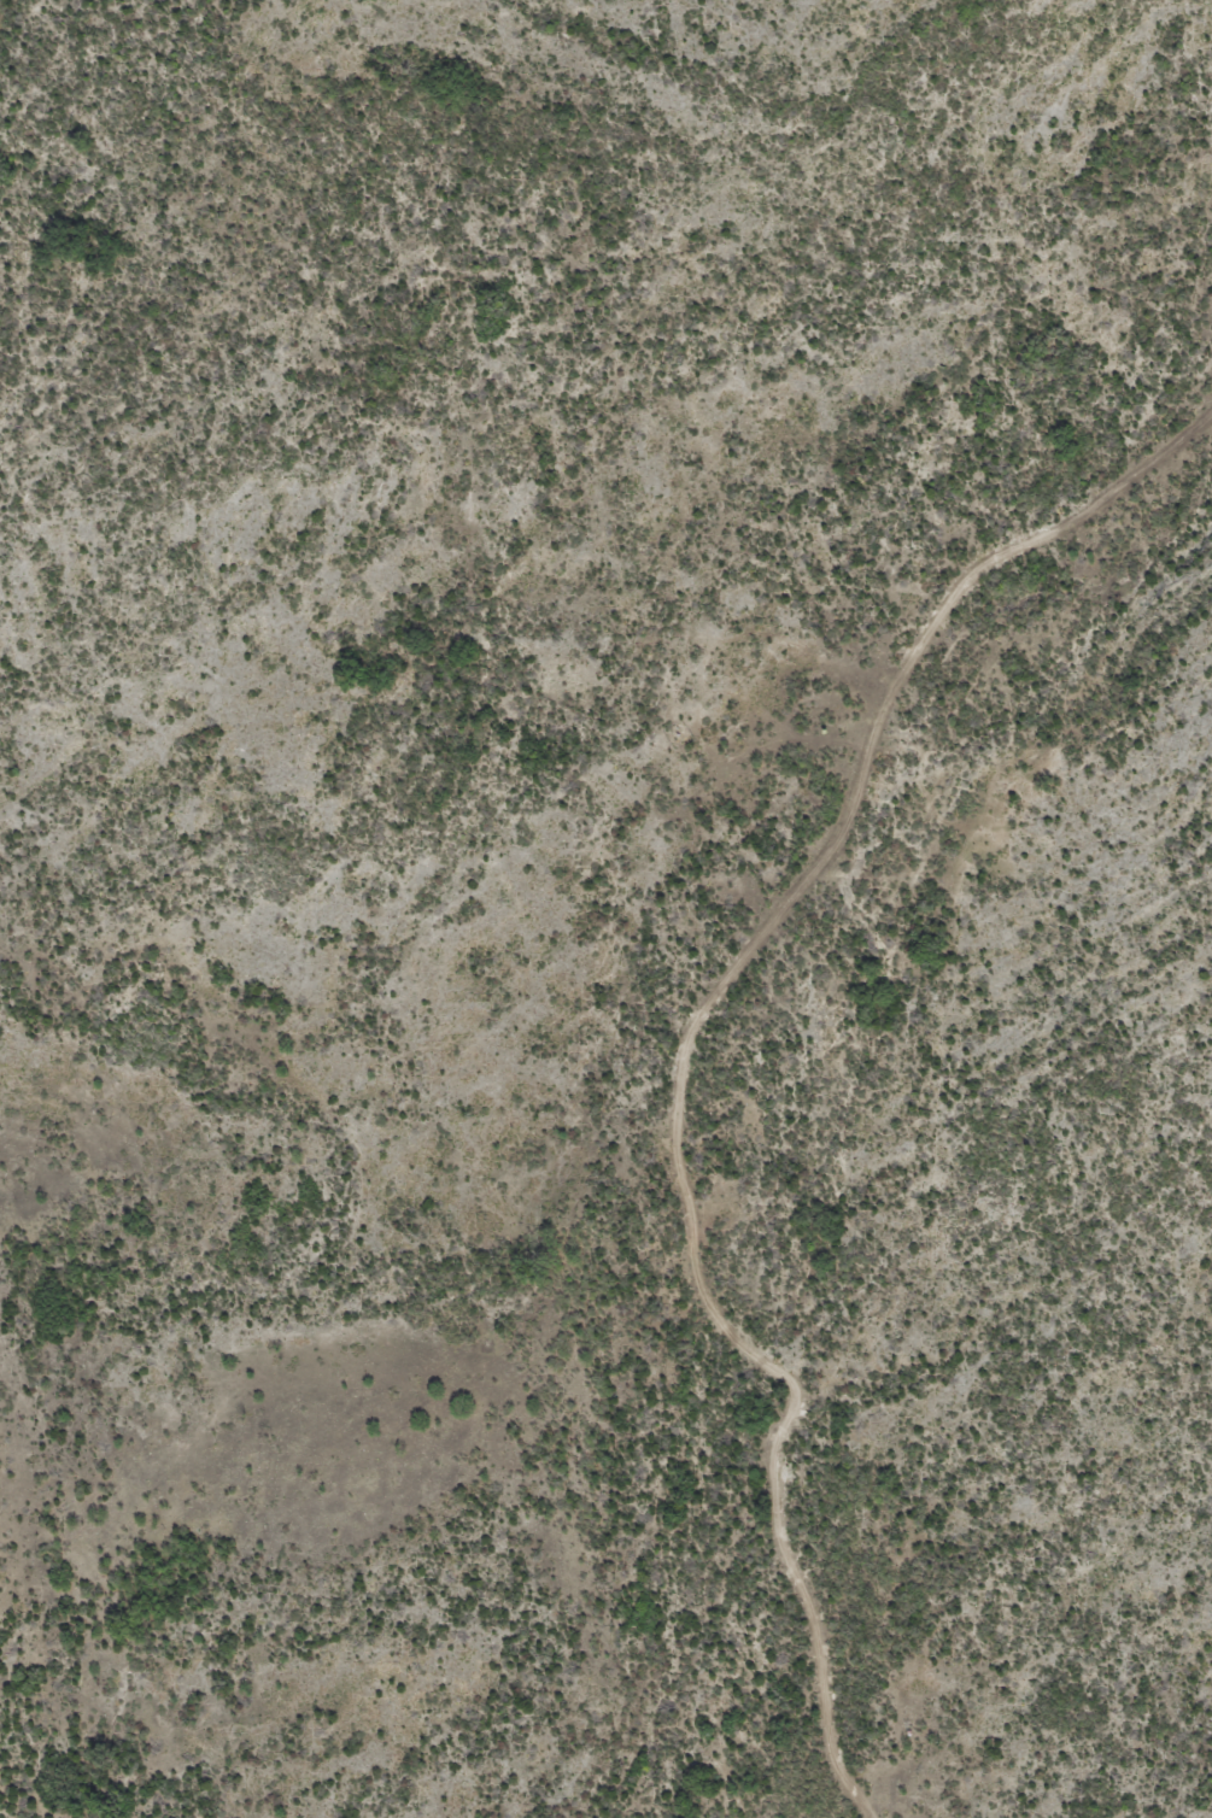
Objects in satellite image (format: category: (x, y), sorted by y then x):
road: (947, 1052)
road: (1072, 1228)

